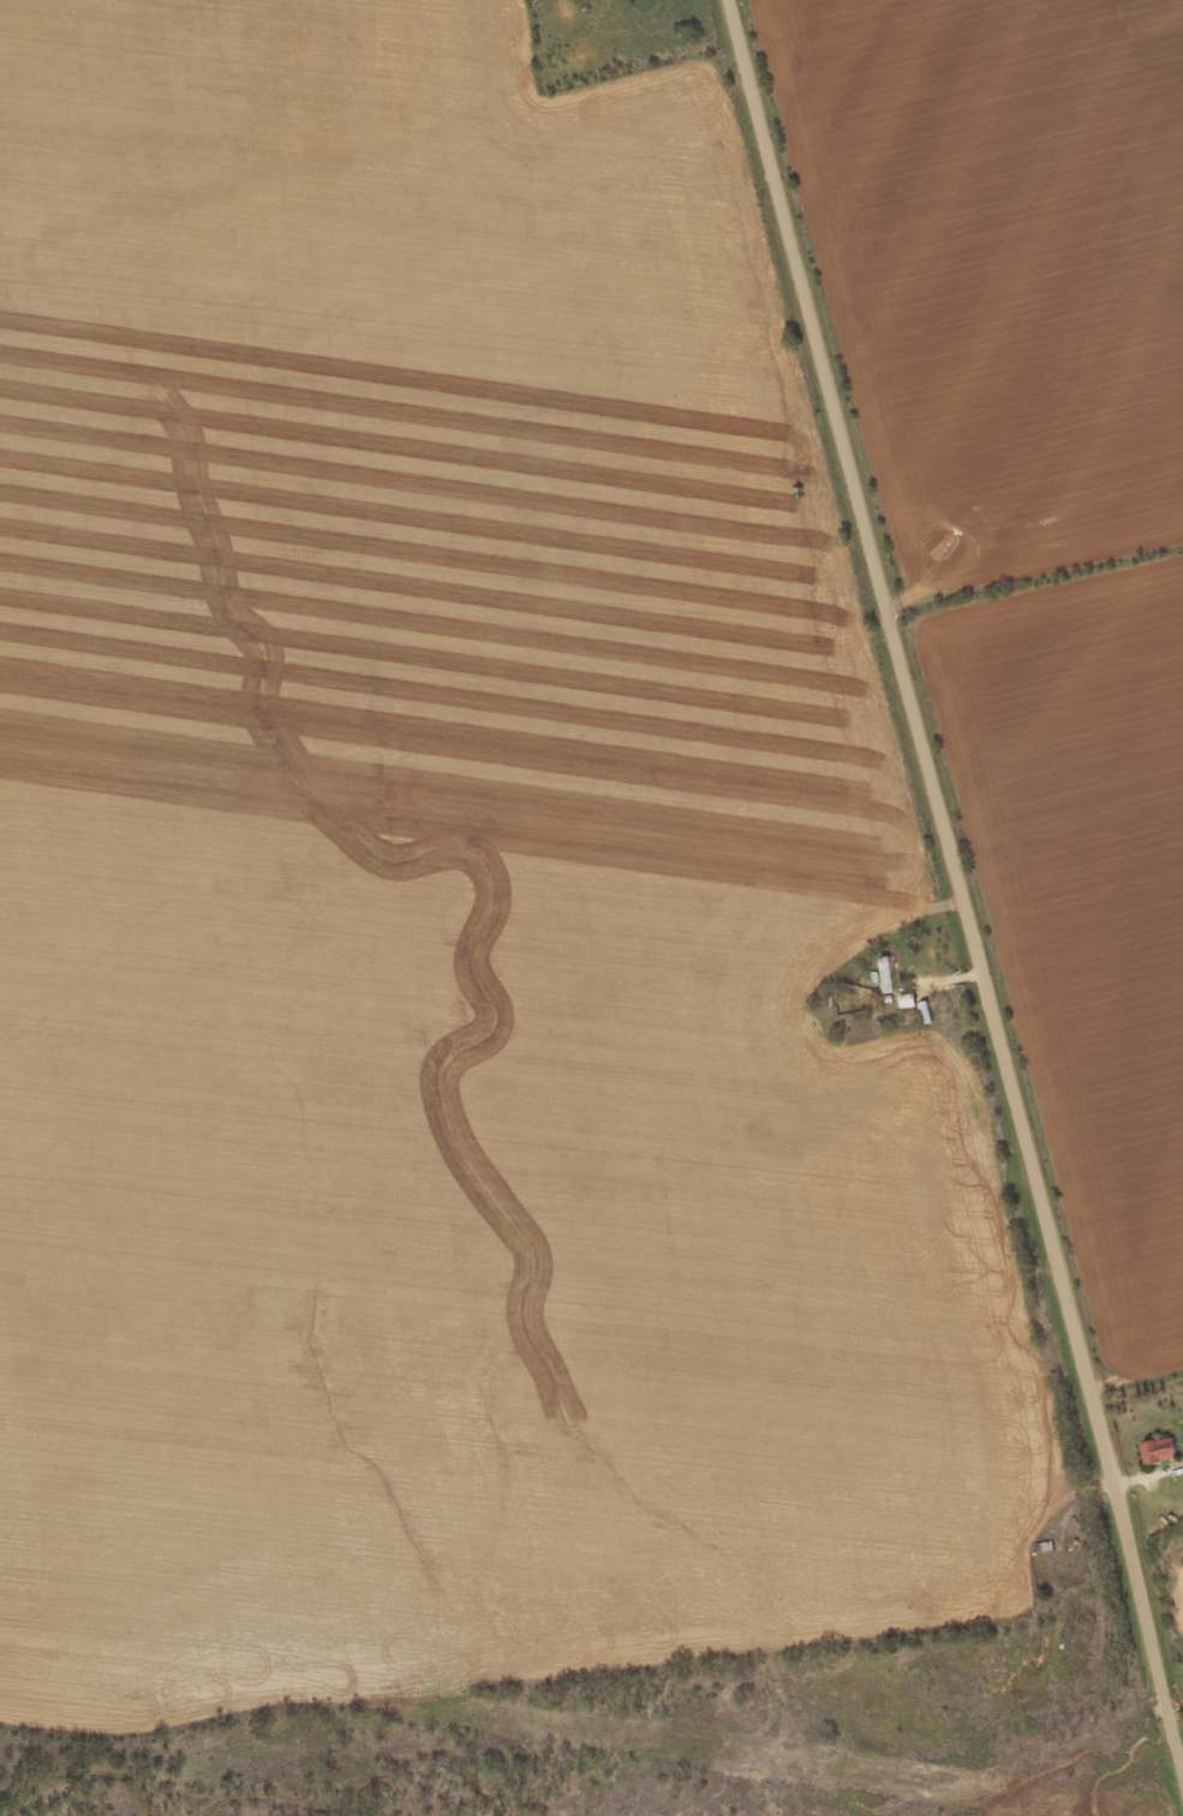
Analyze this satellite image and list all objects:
road: (951, 879)
building: (1157, 1459)

